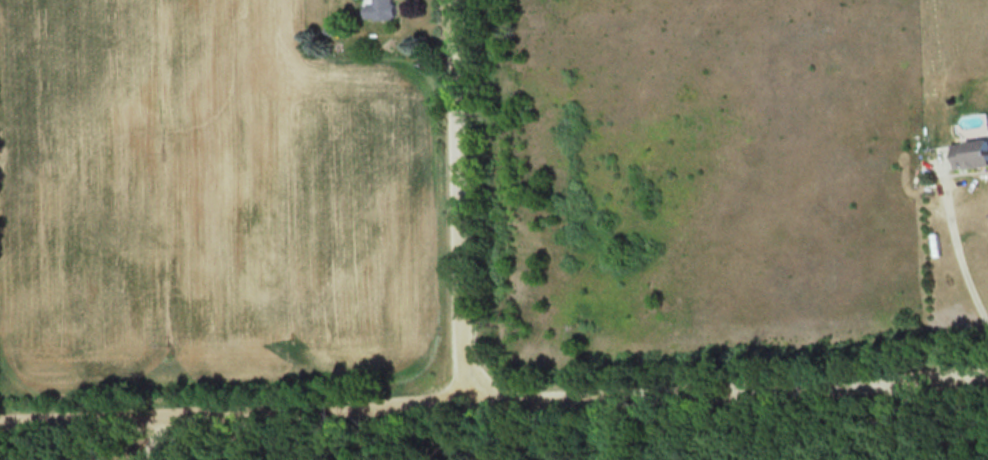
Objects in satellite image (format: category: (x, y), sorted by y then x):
building: (380, 8)
building: (971, 153)
road: (460, 198)
road: (955, 244)
road: (493, 395)
road: (247, 432)

